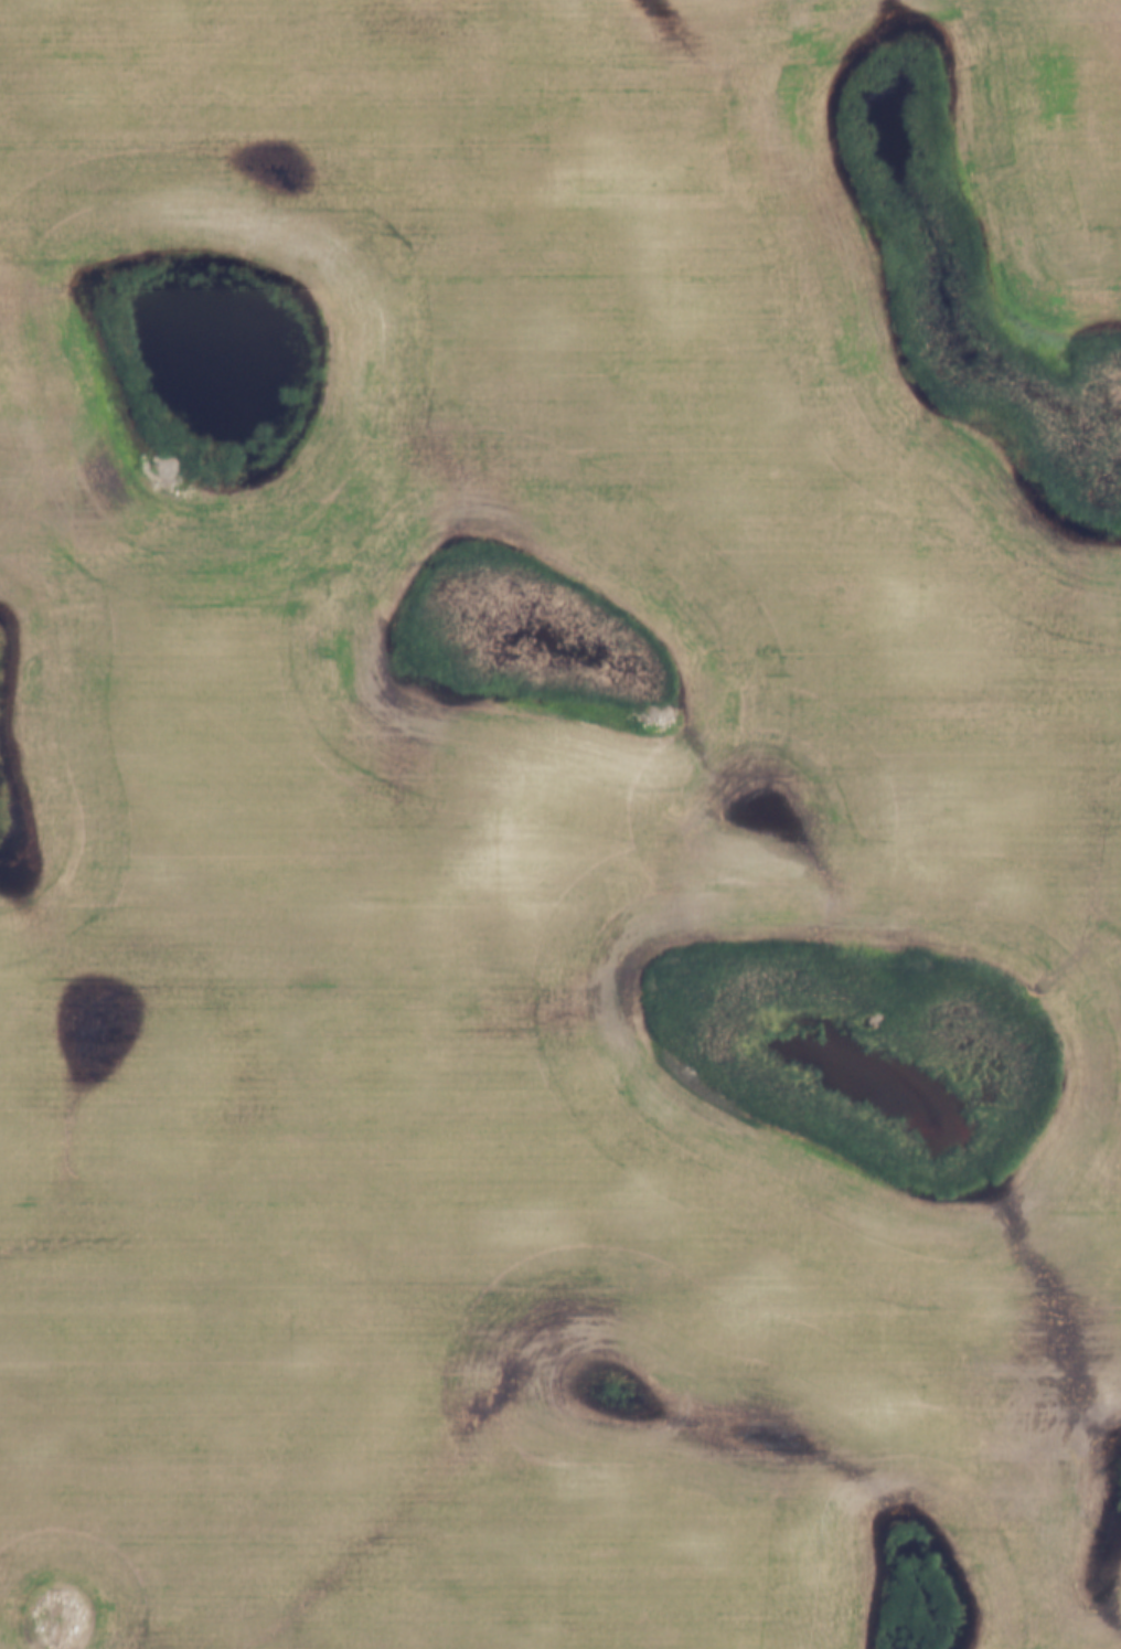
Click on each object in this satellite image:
road: (746, 12)

